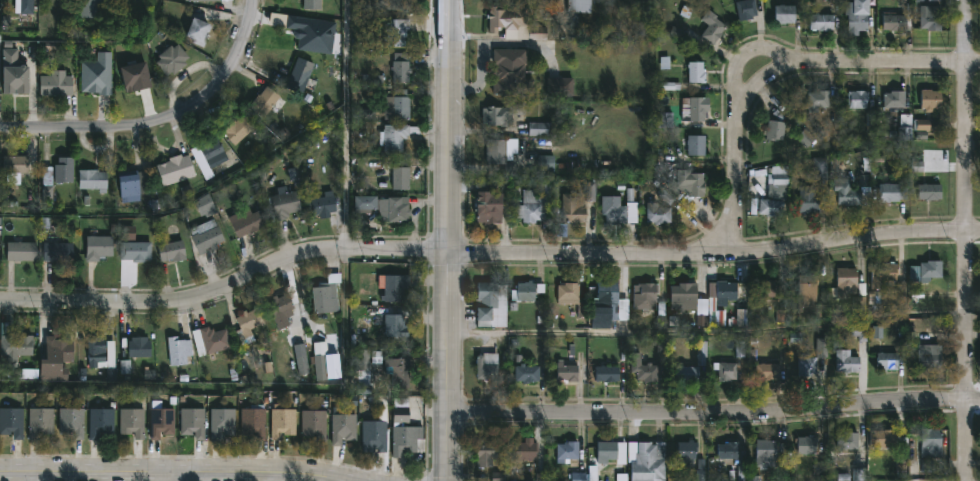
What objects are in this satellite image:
building: (210, 2)
building: (312, 4)
building: (390, 4)
building: (579, 5)
building: (89, 8)
building: (747, 9)
building: (26, 11)
building: (785, 13)
building: (859, 16)
building: (931, 18)
building: (822, 21)
building: (895, 22)
building: (513, 24)
building: (712, 27)
building: (393, 30)
building: (198, 31)
road: (743, 54)
building: (172, 58)
road: (869, 61)
road: (234, 66)
building: (400, 67)
building: (510, 71)
building: (696, 71)
building: (13, 72)
building: (97, 73)
building: (302, 75)
building: (56, 83)
building: (560, 88)
building: (895, 98)
building: (819, 99)
building: (858, 99)
building: (930, 99)
building: (265, 101)
building: (398, 104)
building: (693, 108)
building: (502, 113)
road: (450, 126)
building: (926, 126)
building: (906, 128)
building: (238, 129)
building: (544, 129)
road: (92, 130)
building: (776, 130)
building: (396, 136)
building: (697, 145)
road: (974, 148)
building: (213, 151)
building: (496, 152)
road: (735, 159)
building: (15, 164)
building: (176, 168)
building: (820, 168)
building: (64, 169)
building: (400, 175)
road: (236, 178)
building: (93, 179)
building: (780, 180)
road: (349, 181)
building: (132, 186)
building: (683, 187)
building: (930, 191)
building: (893, 192)
building: (847, 193)
building: (807, 199)
building: (285, 203)
building: (323, 203)
building: (366, 204)
building: (535, 204)
building: (206, 205)
building: (490, 207)
building: (771, 207)
building: (394, 209)
building: (573, 209)
building: (620, 210)
building: (659, 214)
building: (247, 222)
building: (207, 239)
road: (968, 240)
building: (98, 247)
building: (135, 250)
building: (171, 250)
building: (21, 251)
building: (57, 251)
road: (716, 253)
building: (931, 270)
building: (883, 275)
building: (843, 282)
building: (393, 286)
road: (227, 288)
building: (766, 289)
building: (805, 290)
building: (527, 291)
building: (726, 293)
building: (645, 296)
building: (896, 296)
building: (326, 297)
building: (574, 298)
building: (613, 300)
building: (689, 300)
building: (492, 304)
building: (281, 308)
building: (247, 325)
building: (395, 325)
road: (715, 335)
building: (210, 339)
building: (139, 347)
building: (16, 348)
building: (179, 350)
building: (100, 356)
building: (928, 356)
building: (55, 357)
building: (888, 360)
building: (847, 362)
road: (451, 366)
building: (485, 366)
building: (808, 366)
building: (644, 369)
building: (769, 370)
building: (398, 371)
building: (726, 371)
building: (527, 372)
building: (567, 372)
building: (686, 372)
building: (606, 373)
road: (715, 416)
building: (193, 420)
building: (160, 421)
building: (254, 421)
building: (283, 421)
building: (12, 422)
building: (40, 422)
building: (70, 422)
building: (100, 422)
building: (131, 422)
building: (223, 422)
building: (314, 424)
building: (343, 428)
building: (406, 434)
building: (374, 436)
building: (848, 440)
building: (892, 443)
building: (932, 443)
building: (807, 445)
building: (527, 450)
building: (567, 450)
building: (729, 450)
building: (612, 452)
building: (486, 453)
building: (769, 453)
building: (687, 454)
building: (647, 461)
road: (184, 473)
road: (167, 477)
road: (342, 479)

